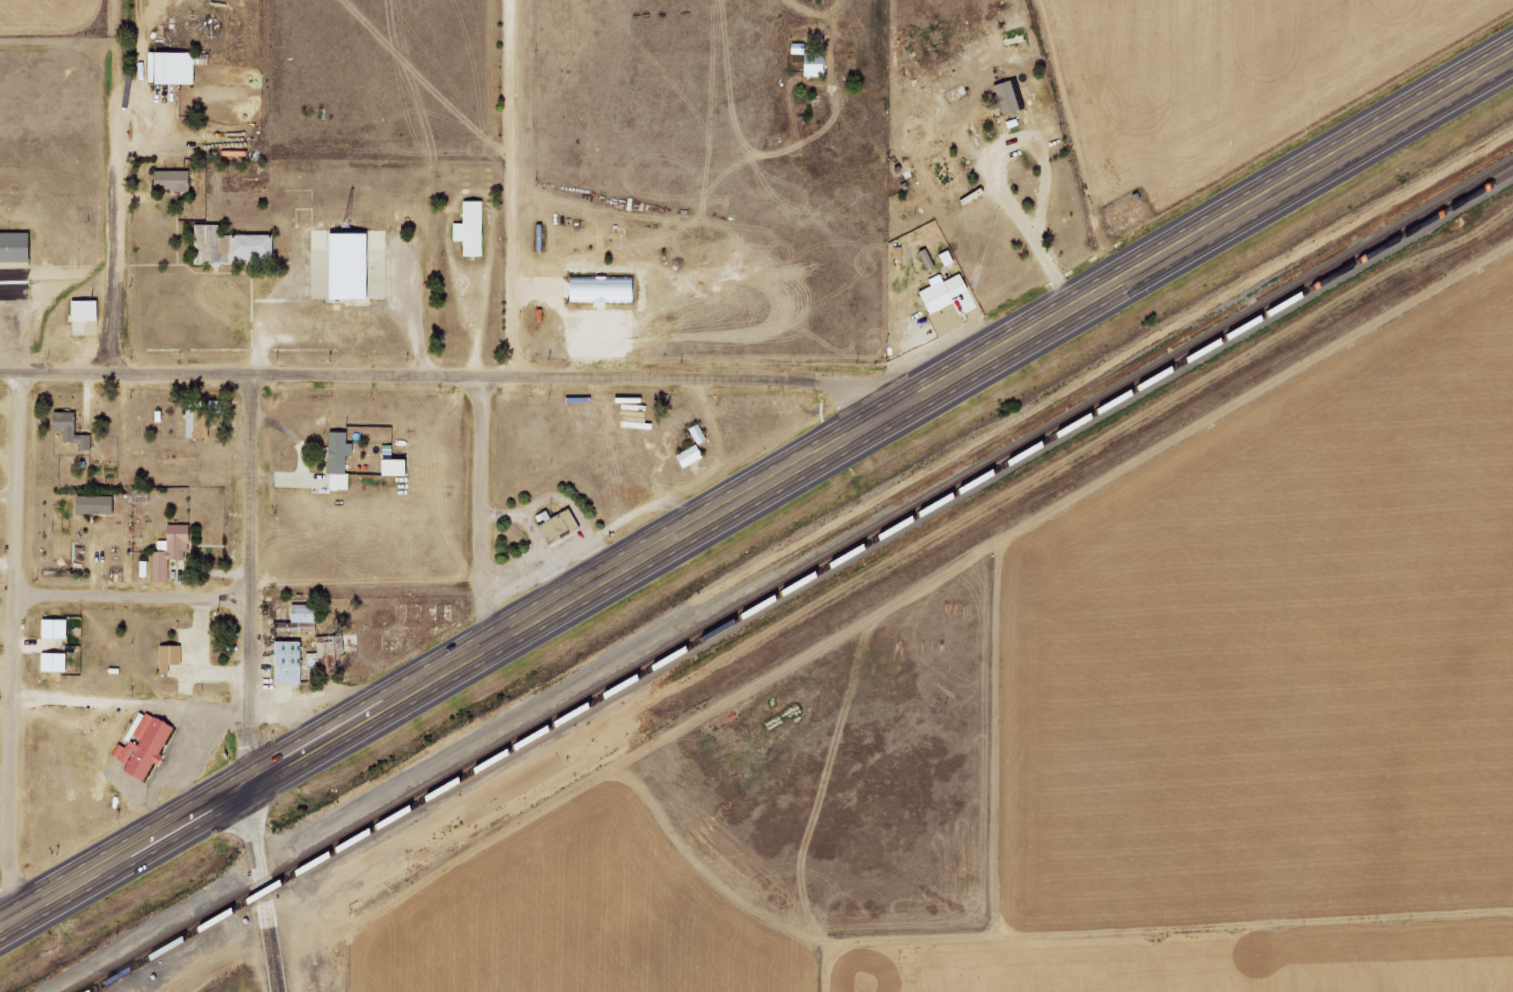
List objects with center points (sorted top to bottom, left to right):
building: (811, 65)
building: (169, 67)
building: (1006, 97)
building: (944, 174)
building: (169, 180)
road: (116, 186)
building: (469, 229)
building: (13, 247)
building: (230, 247)
building: (345, 266)
building: (600, 289)
building: (935, 295)
building: (84, 310)
road: (445, 378)
road: (880, 419)
building: (196, 423)
building: (69, 430)
building: (688, 456)
building: (338, 461)
building: (389, 467)
building: (93, 505)
road: (483, 511)
building: (557, 526)
building: (169, 551)
building: (144, 569)
railway: (793, 577)
road: (251, 578)
railway: (802, 582)
road: (133, 597)
building: (301, 613)
building: (53, 629)
road: (13, 646)
building: (320, 653)
building: (167, 657)
building: (52, 662)
building: (287, 663)
building: (142, 746)
road: (4, 786)
road: (123, 854)
road: (262, 887)
railway: (107, 983)

